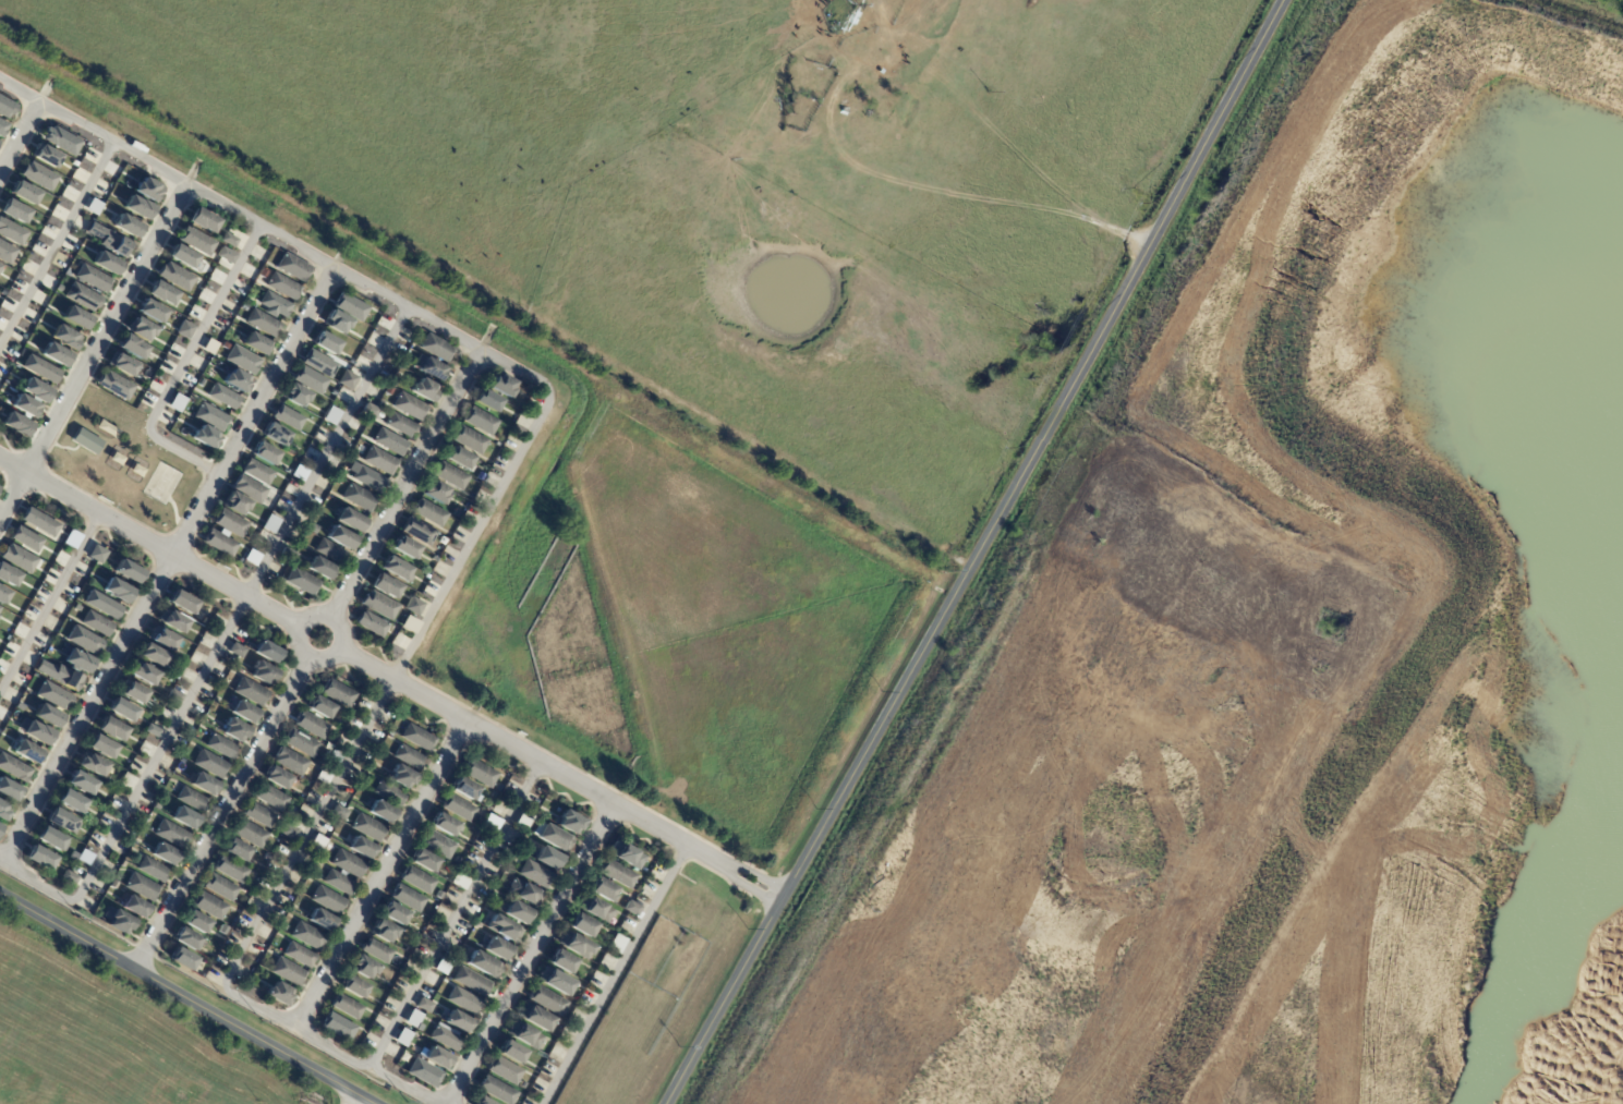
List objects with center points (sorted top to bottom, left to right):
building: (844, 106)
building: (5, 107)
building: (1, 126)
road: (19, 133)
building: (60, 141)
building: (46, 156)
building: (38, 175)
building: (147, 190)
building: (24, 193)
building: (93, 206)
building: (137, 207)
building: (13, 210)
building: (201, 220)
building: (126, 226)
building: (11, 232)
building: (109, 240)
building: (228, 240)
road: (56, 241)
building: (195, 241)
building: (5, 253)
building: (225, 255)
building: (182, 256)
building: (105, 263)
building: (294, 269)
building: (175, 276)
building: (92, 278)
building: (283, 287)
building: (58, 288)
building: (2, 292)
building: (161, 292)
building: (82, 296)
building: (276, 305)
building: (352, 308)
building: (152, 311)
building: (75, 317)
building: (338, 324)
building: (264, 325)
building: (140, 329)
building: (184, 329)
building: (64, 337)
building: (257, 345)
building: (327, 345)
building: (132, 347)
building: (209, 347)
building: (437, 349)
road: (93, 351)
building: (54, 354)
building: (244, 361)
road: (185, 362)
building: (121, 364)
building: (320, 365)
building: (40, 368)
building: (433, 371)
building: (312, 381)
building: (349, 381)
building: (204, 383)
building: (238, 383)
building: (114, 385)
building: (504, 388)
building: (35, 390)
building: (426, 392)
building: (391, 393)
building: (192, 398)
building: (225, 398)
building: (298, 398)
building: (489, 403)
building: (179, 404)
building: (25, 407)
building: (411, 408)
building: (372, 412)
building: (332, 416)
building: (211, 418)
building: (290, 418)
building: (482, 423)
building: (15, 424)
building: (402, 426)
building: (106, 428)
building: (277, 437)
building: (206, 439)
building: (86, 440)
building: (471, 441)
building: (390, 442)
building: (266, 456)
building: (460, 460)
building: (381, 462)
building: (258, 473)
building: (368, 480)
building: (456, 480)
park: (161, 483)
road: (407, 484)
building: (250, 492)
building: (437, 495)
building: (360, 499)
building: (237, 507)
building: (431, 514)
road: (485, 519)
building: (39, 522)
building: (351, 522)
building: (231, 525)
building: (271, 525)
building: (314, 530)
building: (421, 533)
building: (26, 538)
building: (342, 541)
road: (150, 543)
building: (220, 544)
building: (407, 550)
building: (330, 553)
building: (97, 554)
road: (977, 554)
building: (290, 555)
building: (19, 558)
road: (167, 565)
building: (398, 570)
building: (128, 571)
building: (322, 571)
building: (8, 575)
building: (303, 583)
building: (117, 590)
building: (386, 590)
building: (2, 595)
building: (182, 602)
road: (49, 604)
building: (102, 605)
building: (75, 607)
building: (380, 607)
building: (415, 608)
building: (172, 621)
building: (206, 621)
building: (96, 623)
building: (373, 627)
road: (299, 639)
quarry: (1273, 639)
building: (83, 640)
building: (166, 640)
road: (222, 643)
building: (10, 648)
building: (235, 651)
building: (267, 651)
building: (153, 655)
building: (77, 660)
building: (143, 674)
building: (263, 674)
building: (59, 675)
building: (175, 676)
building: (251, 692)
building: (134, 693)
building: (338, 693)
building: (52, 694)
building: (173, 695)
building: (319, 706)
building: (122, 711)
building: (243, 712)
building: (47, 716)
building: (310, 725)
building: (111, 729)
building: (152, 730)
building: (234, 730)
building: (36, 732)
building: (417, 738)
building: (300, 743)
building: (220, 747)
building: (101, 748)
building: (26, 752)
building: (408, 756)
building: (289, 762)
building: (92, 765)
building: (210, 765)
building: (14, 768)
road: (558, 769)
building: (480, 773)
building: (323, 776)
building: (276, 777)
building: (402, 777)
building: (81, 784)
building: (203, 785)
building: (498, 787)
building: (465, 788)
building: (9, 790)
building: (388, 793)
building: (269, 797)
building: (192, 800)
building: (71, 802)
building: (157, 808)
building: (458, 808)
building: (2, 812)
building: (338, 812)
building: (380, 812)
road: (221, 813)
building: (258, 815)
building: (184, 818)
building: (522, 820)
building: (60, 821)
building: (569, 822)
building: (490, 823)
building: (444, 824)
building: (0, 825)
building: (367, 828)
building: (288, 832)
building: (249, 834)
building: (171, 835)
building: (552, 836)
building: (49, 839)
building: (317, 842)
building: (436, 844)
building: (361, 848)
building: (235, 850)
building: (163, 854)
building: (626, 854)
building: (73, 856)
building: (84, 857)
building: (38, 858)
building: (546, 858)
building: (457, 859)
building: (424, 860)
building: (122, 864)
building: (347, 864)
building: (229, 869)
building: (152, 870)
building: (615, 872)
building: (534, 874)
road: (384, 875)
building: (69, 877)
building: (416, 879)
building: (459, 881)
building: (337, 882)
building: (112, 885)
building: (141, 887)
building: (219, 888)
building: (602, 889)
building: (523, 893)
building: (438, 894)
building: (407, 898)
building: (327, 900)
building: (208, 906)
building: (134, 908)
building: (631, 908)
building: (594, 909)
building: (517, 912)
building: (393, 913)
road: (459, 915)
building: (320, 920)
building: (194, 922)
building: (120, 923)
building: (581, 925)
building: (281, 926)
building: (504, 929)
building: (383, 931)
building: (306, 936)
building: (185, 939)
building: (616, 943)
building: (574, 945)
building: (496, 948)
building: (376, 950)
building: (408, 950)
road: (534, 954)
building: (298, 956)
building: (181, 959)
building: (561, 960)
building: (443, 965)
building: (483, 965)
building: (363, 967)
building: (287, 972)
road: (619, 974)
building: (470, 981)
building: (554, 981)
building: (353, 986)
building: (278, 994)
building: (381, 994)
road: (181, 999)
building: (546, 999)
building: (462, 1000)
building: (423, 1005)
building: (346, 1007)
building: (534, 1017)
building: (413, 1020)
building: (456, 1021)
building: (338, 1027)
building: (523, 1035)
building: (445, 1036)
building: (401, 1038)
building: (510, 1052)
building: (436, 1058)
building: (400, 1065)
building: (502, 1070)
building: (423, 1072)
building: (521, 1084)
building: (495, 1090)
road: (349, 1100)
building: (481, 1101)

